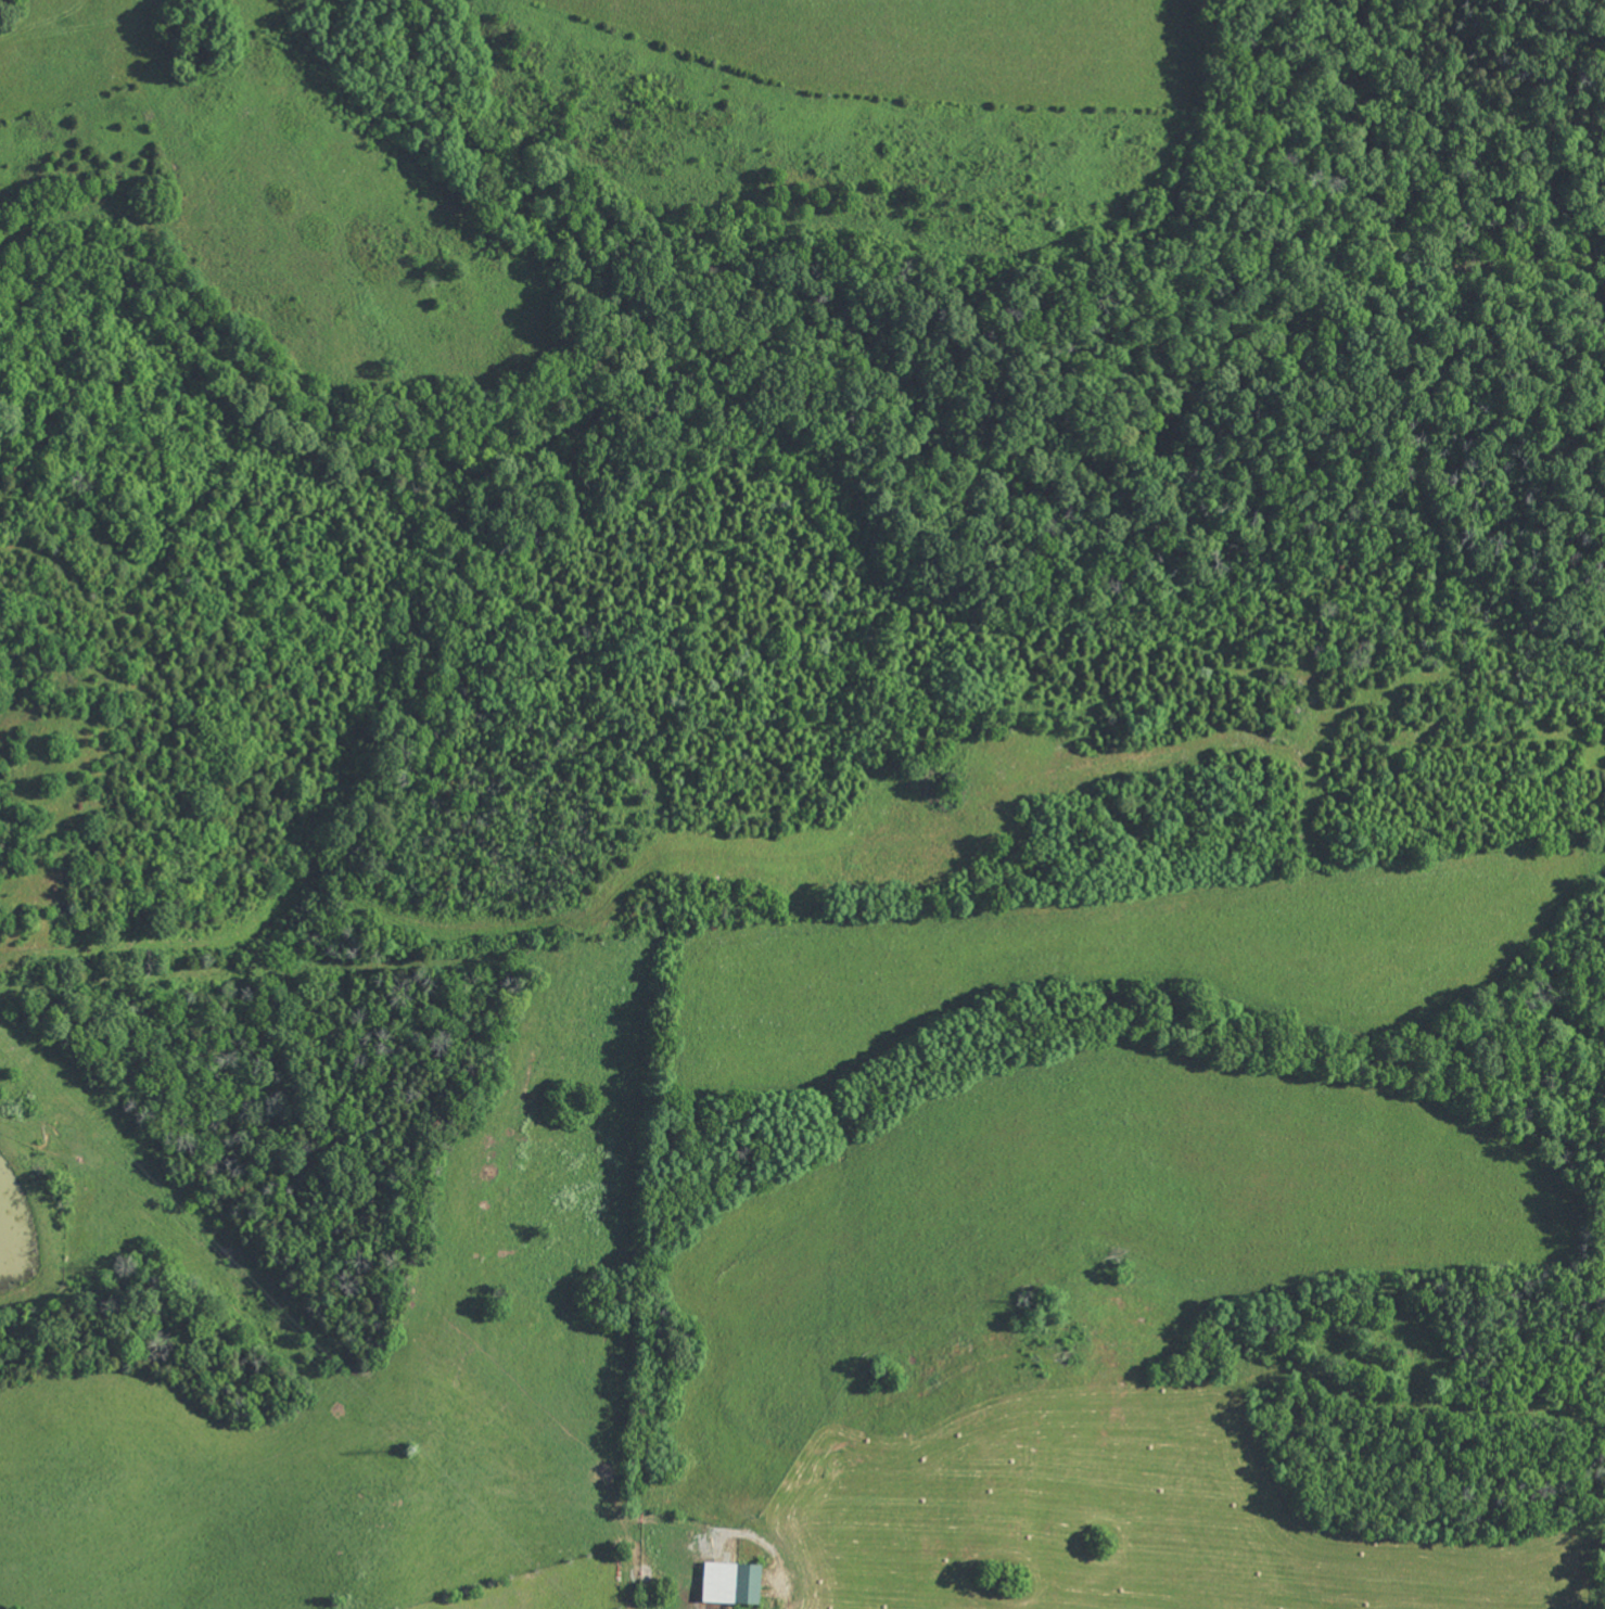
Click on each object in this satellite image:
power tower: (410, 1448)
building: (750, 1585)

